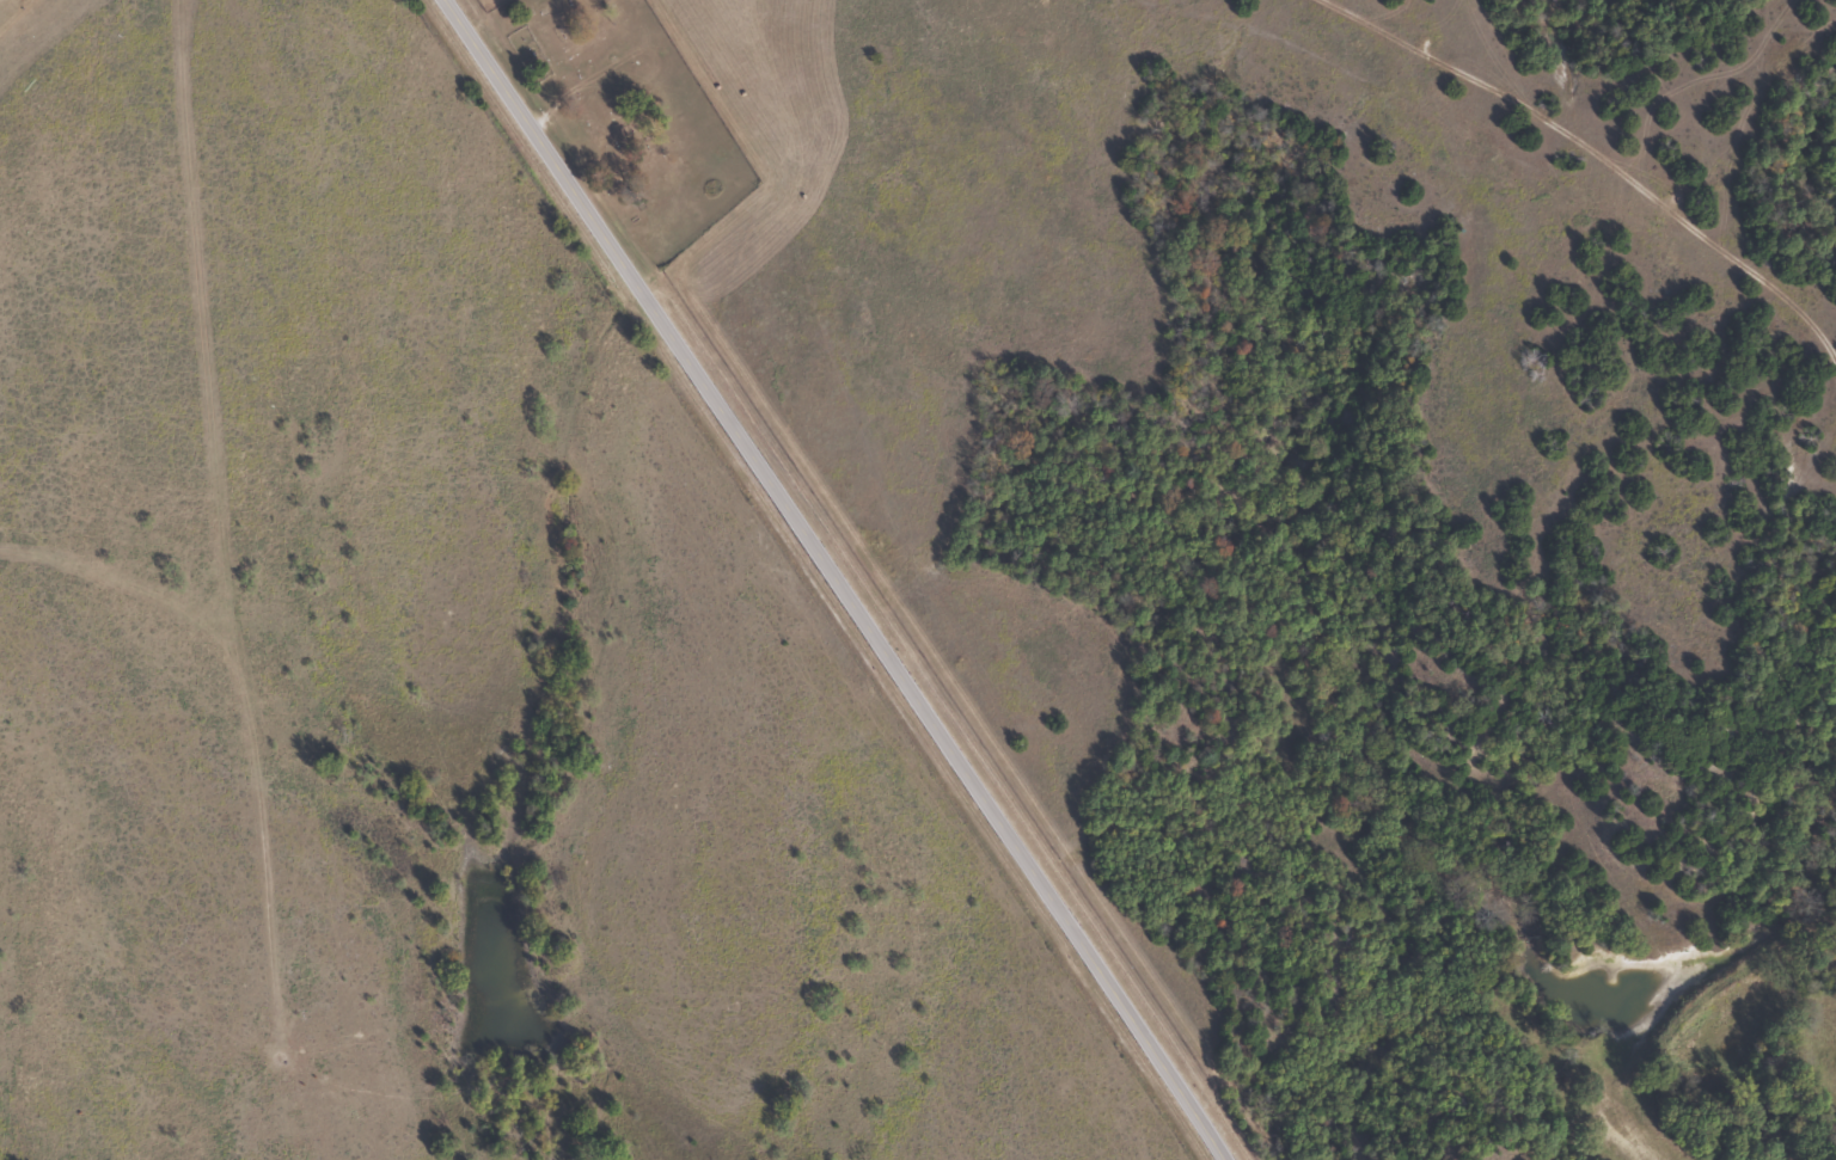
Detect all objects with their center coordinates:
road: (29, 23)
park: (631, 113)
road: (834, 579)

